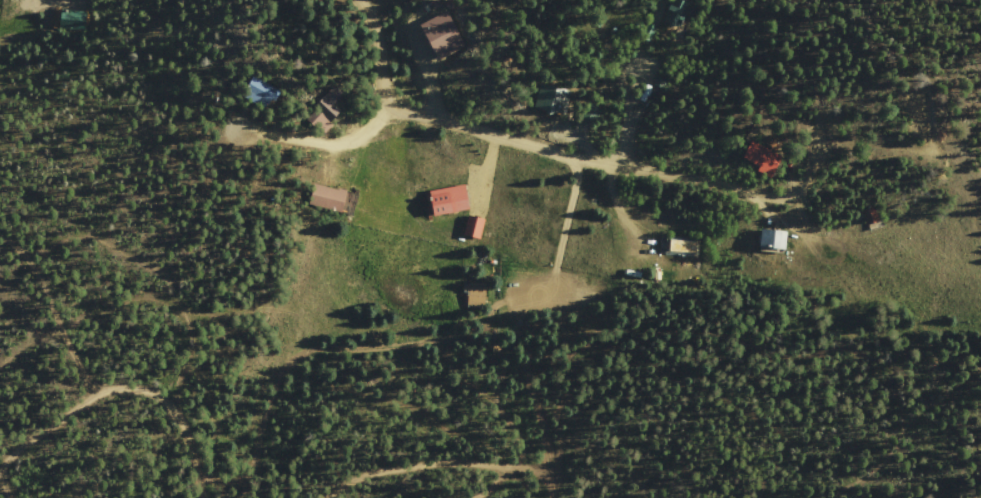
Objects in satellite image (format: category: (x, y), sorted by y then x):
building: (677, 12)
building: (73, 18)
building: (444, 33)
road: (428, 77)
building: (263, 91)
building: (553, 97)
building: (332, 101)
road: (635, 109)
road: (318, 143)
road: (527, 152)
building: (763, 157)
building: (328, 196)
building: (450, 199)
building: (870, 215)
road: (120, 222)
building: (474, 225)
building: (774, 238)
building: (680, 247)
building: (476, 292)
road: (756, 347)
park: (230, 371)
road: (126, 397)
road: (899, 427)
road: (531, 471)
road: (552, 484)
road: (496, 485)

